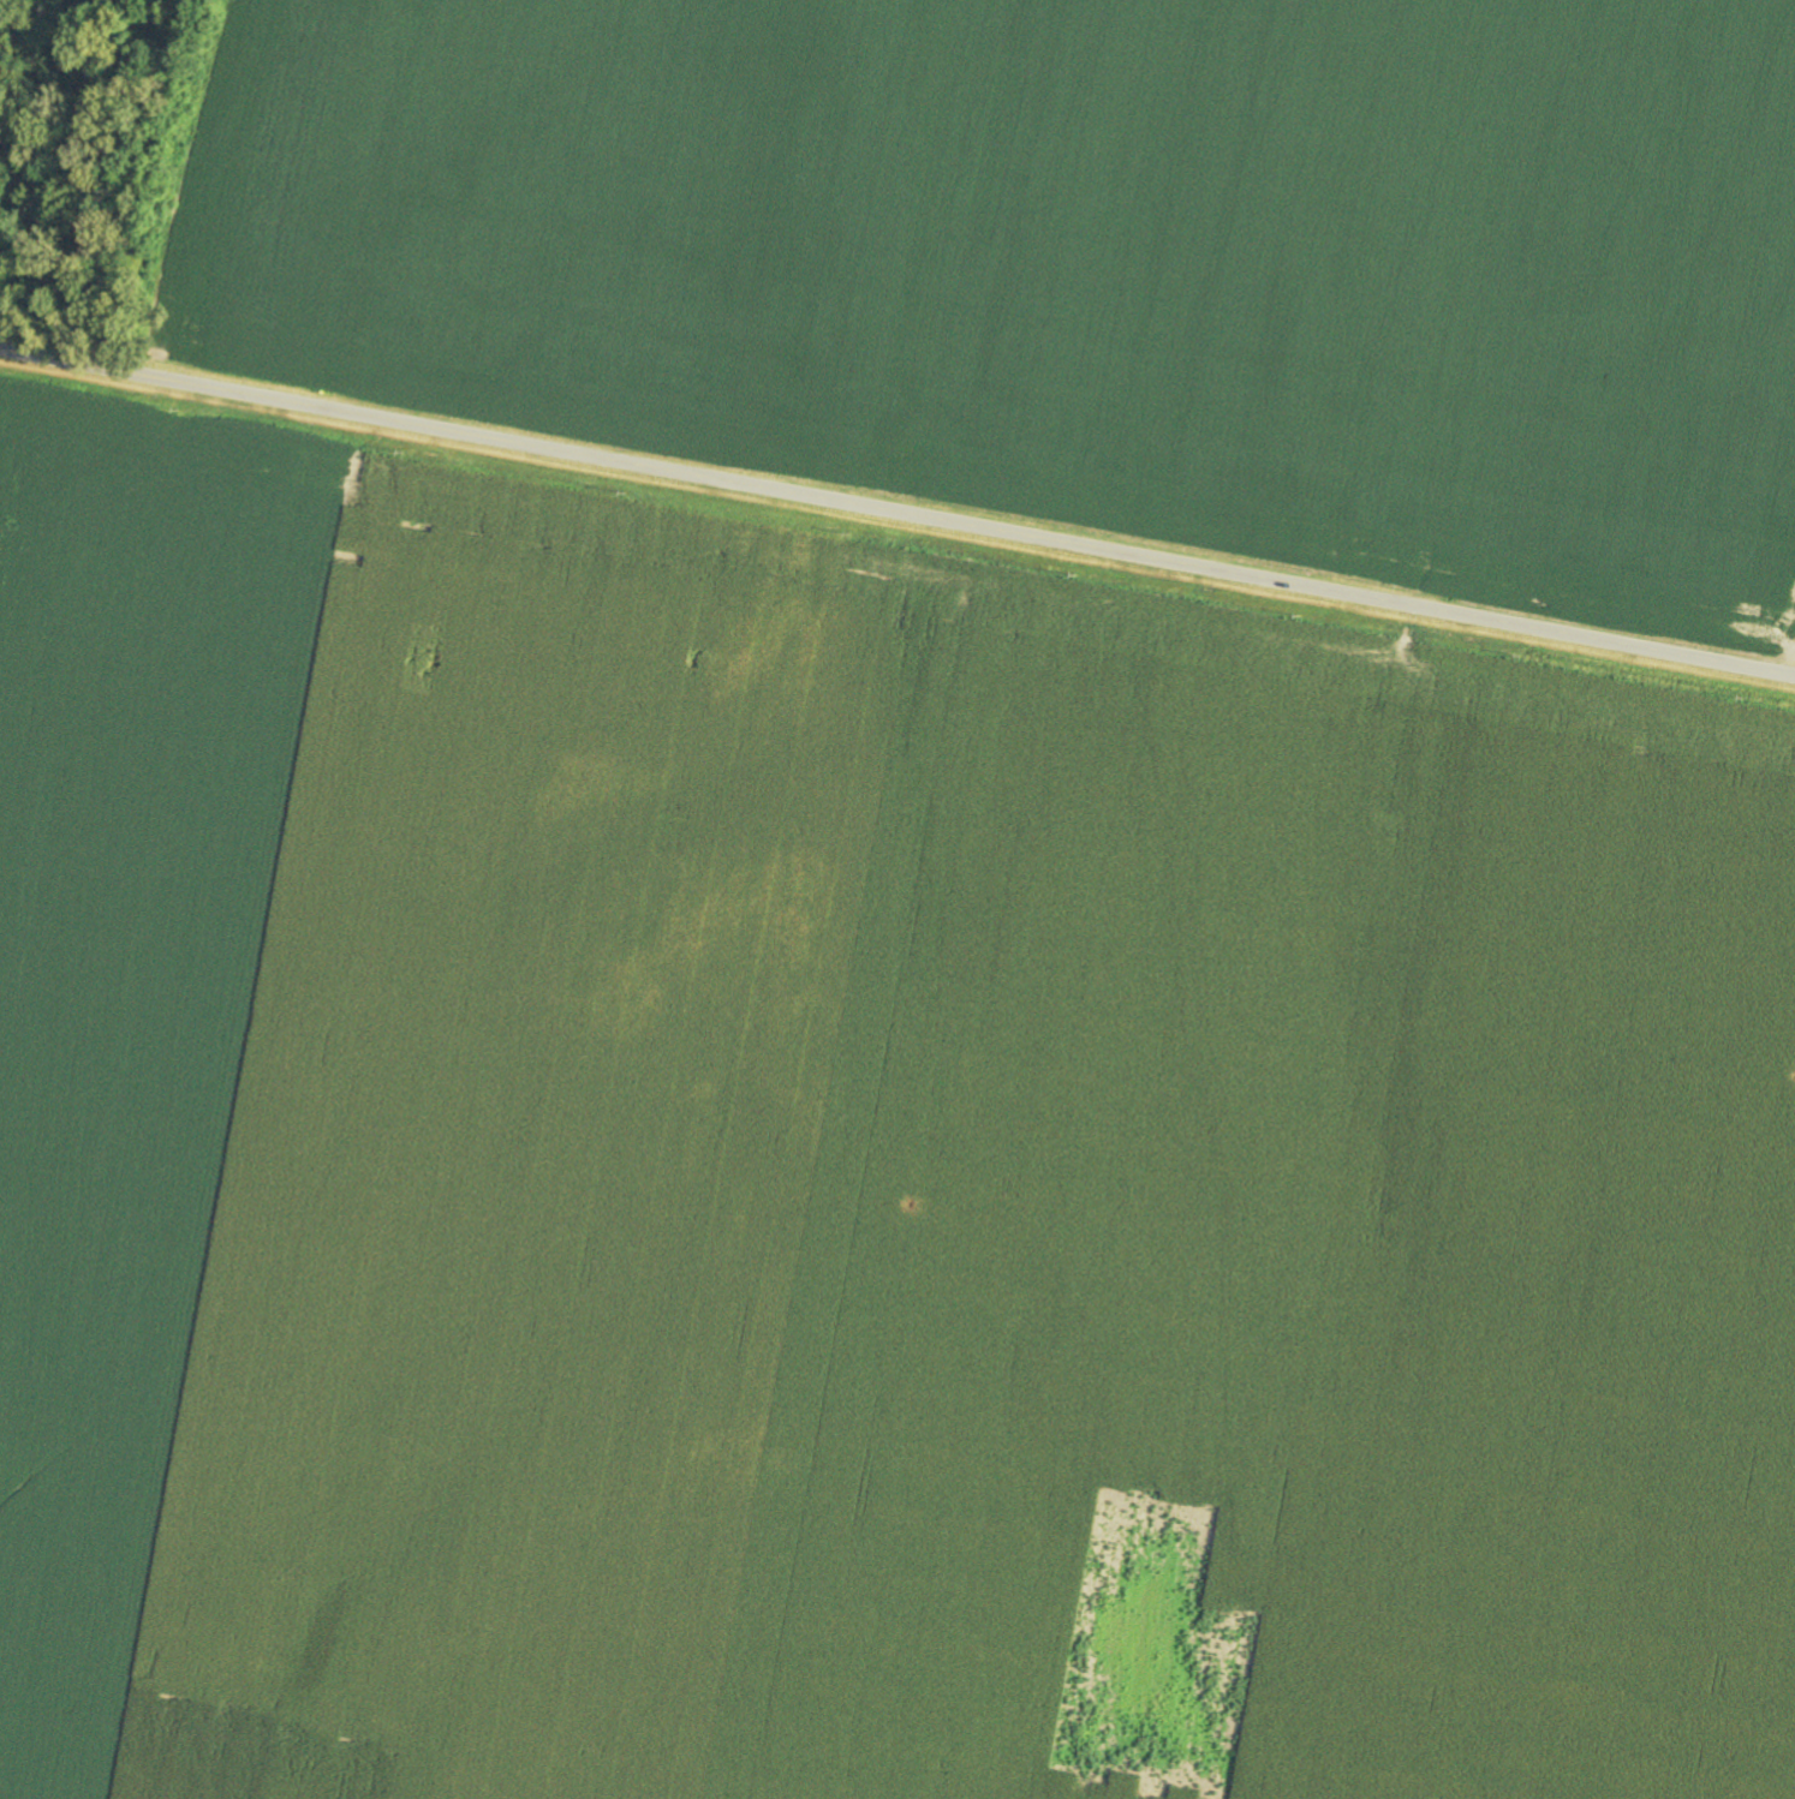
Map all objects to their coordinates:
road: (897, 510)

